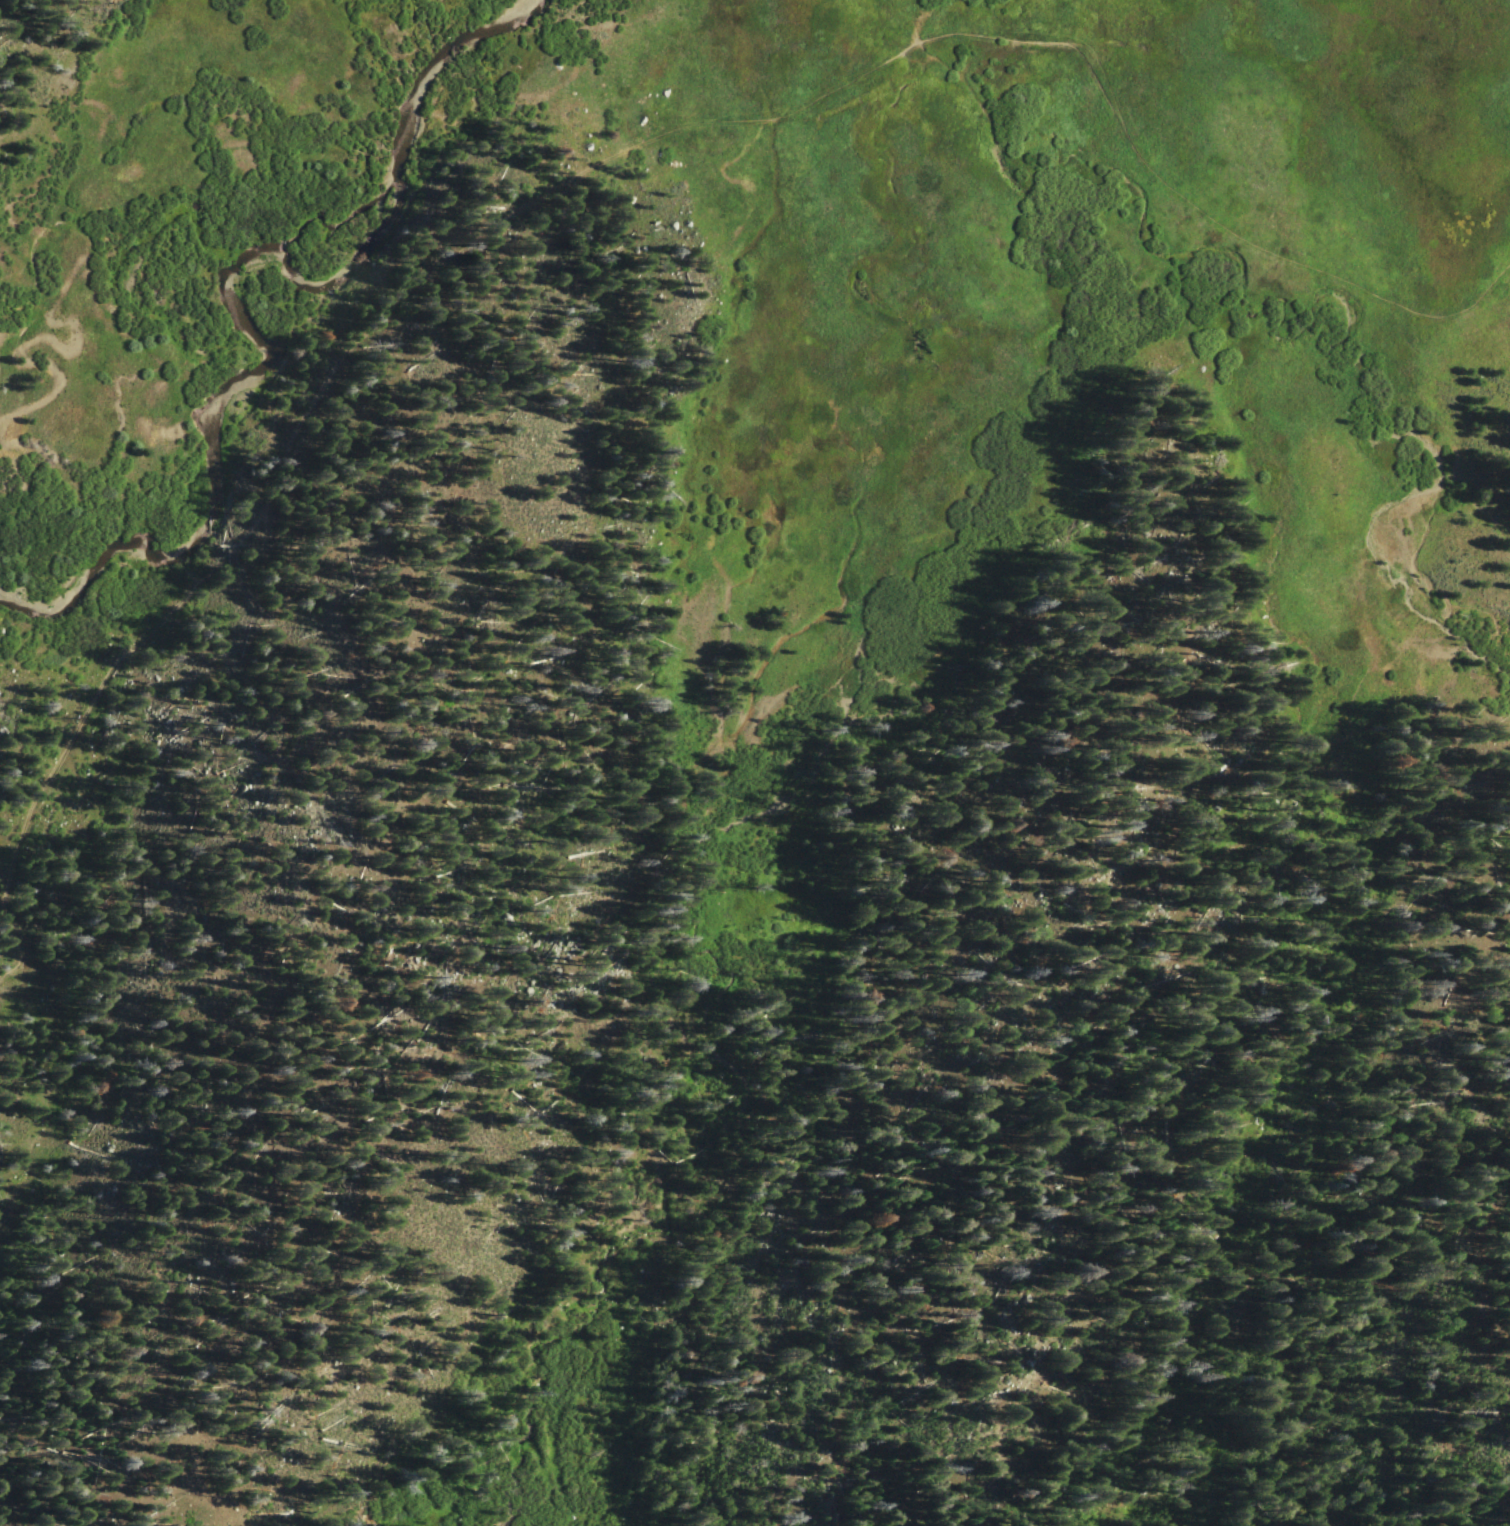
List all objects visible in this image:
road: (641, 144)
river: (241, 307)
road: (13, 943)

